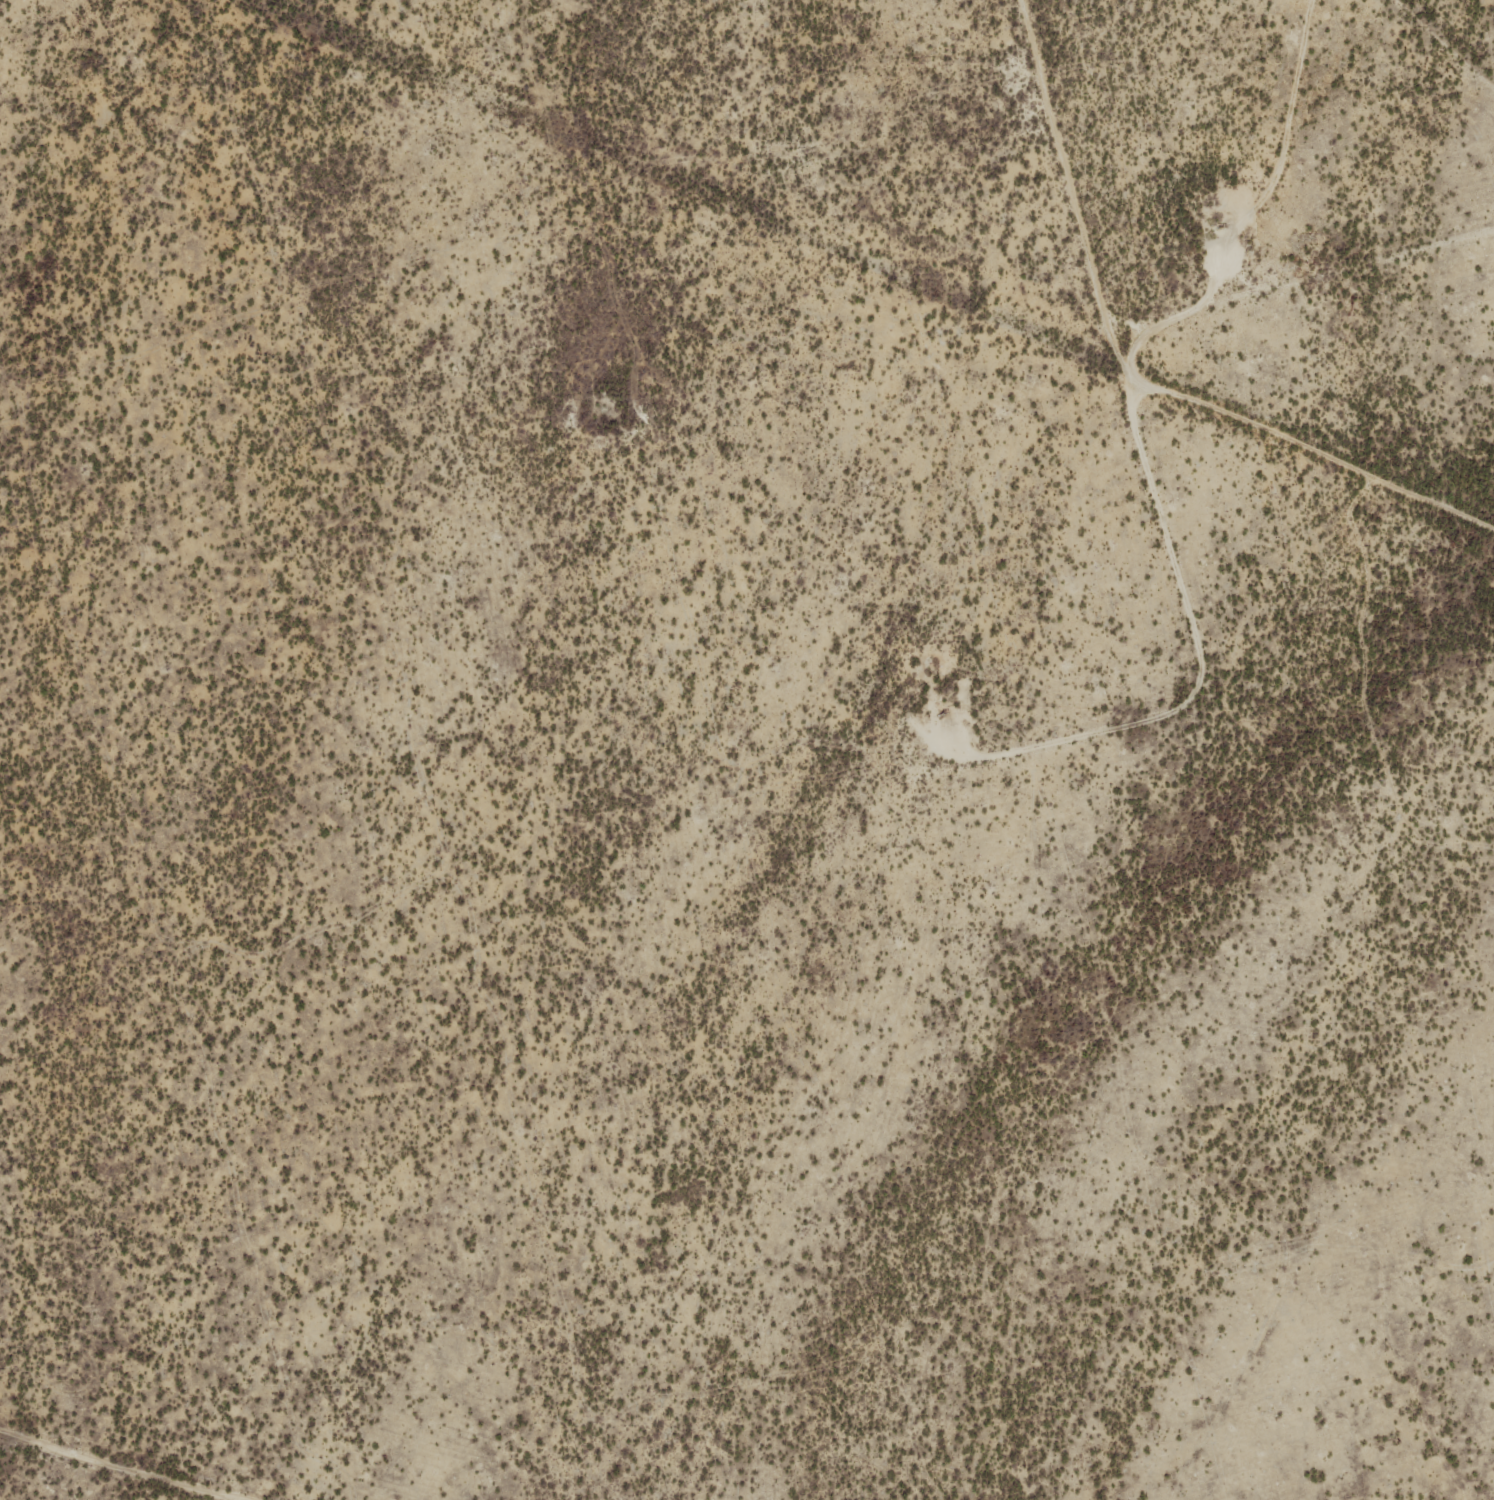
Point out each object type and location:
road: (1092, 226)
road: (1297, 320)
road: (1208, 387)
road: (1404, 487)

